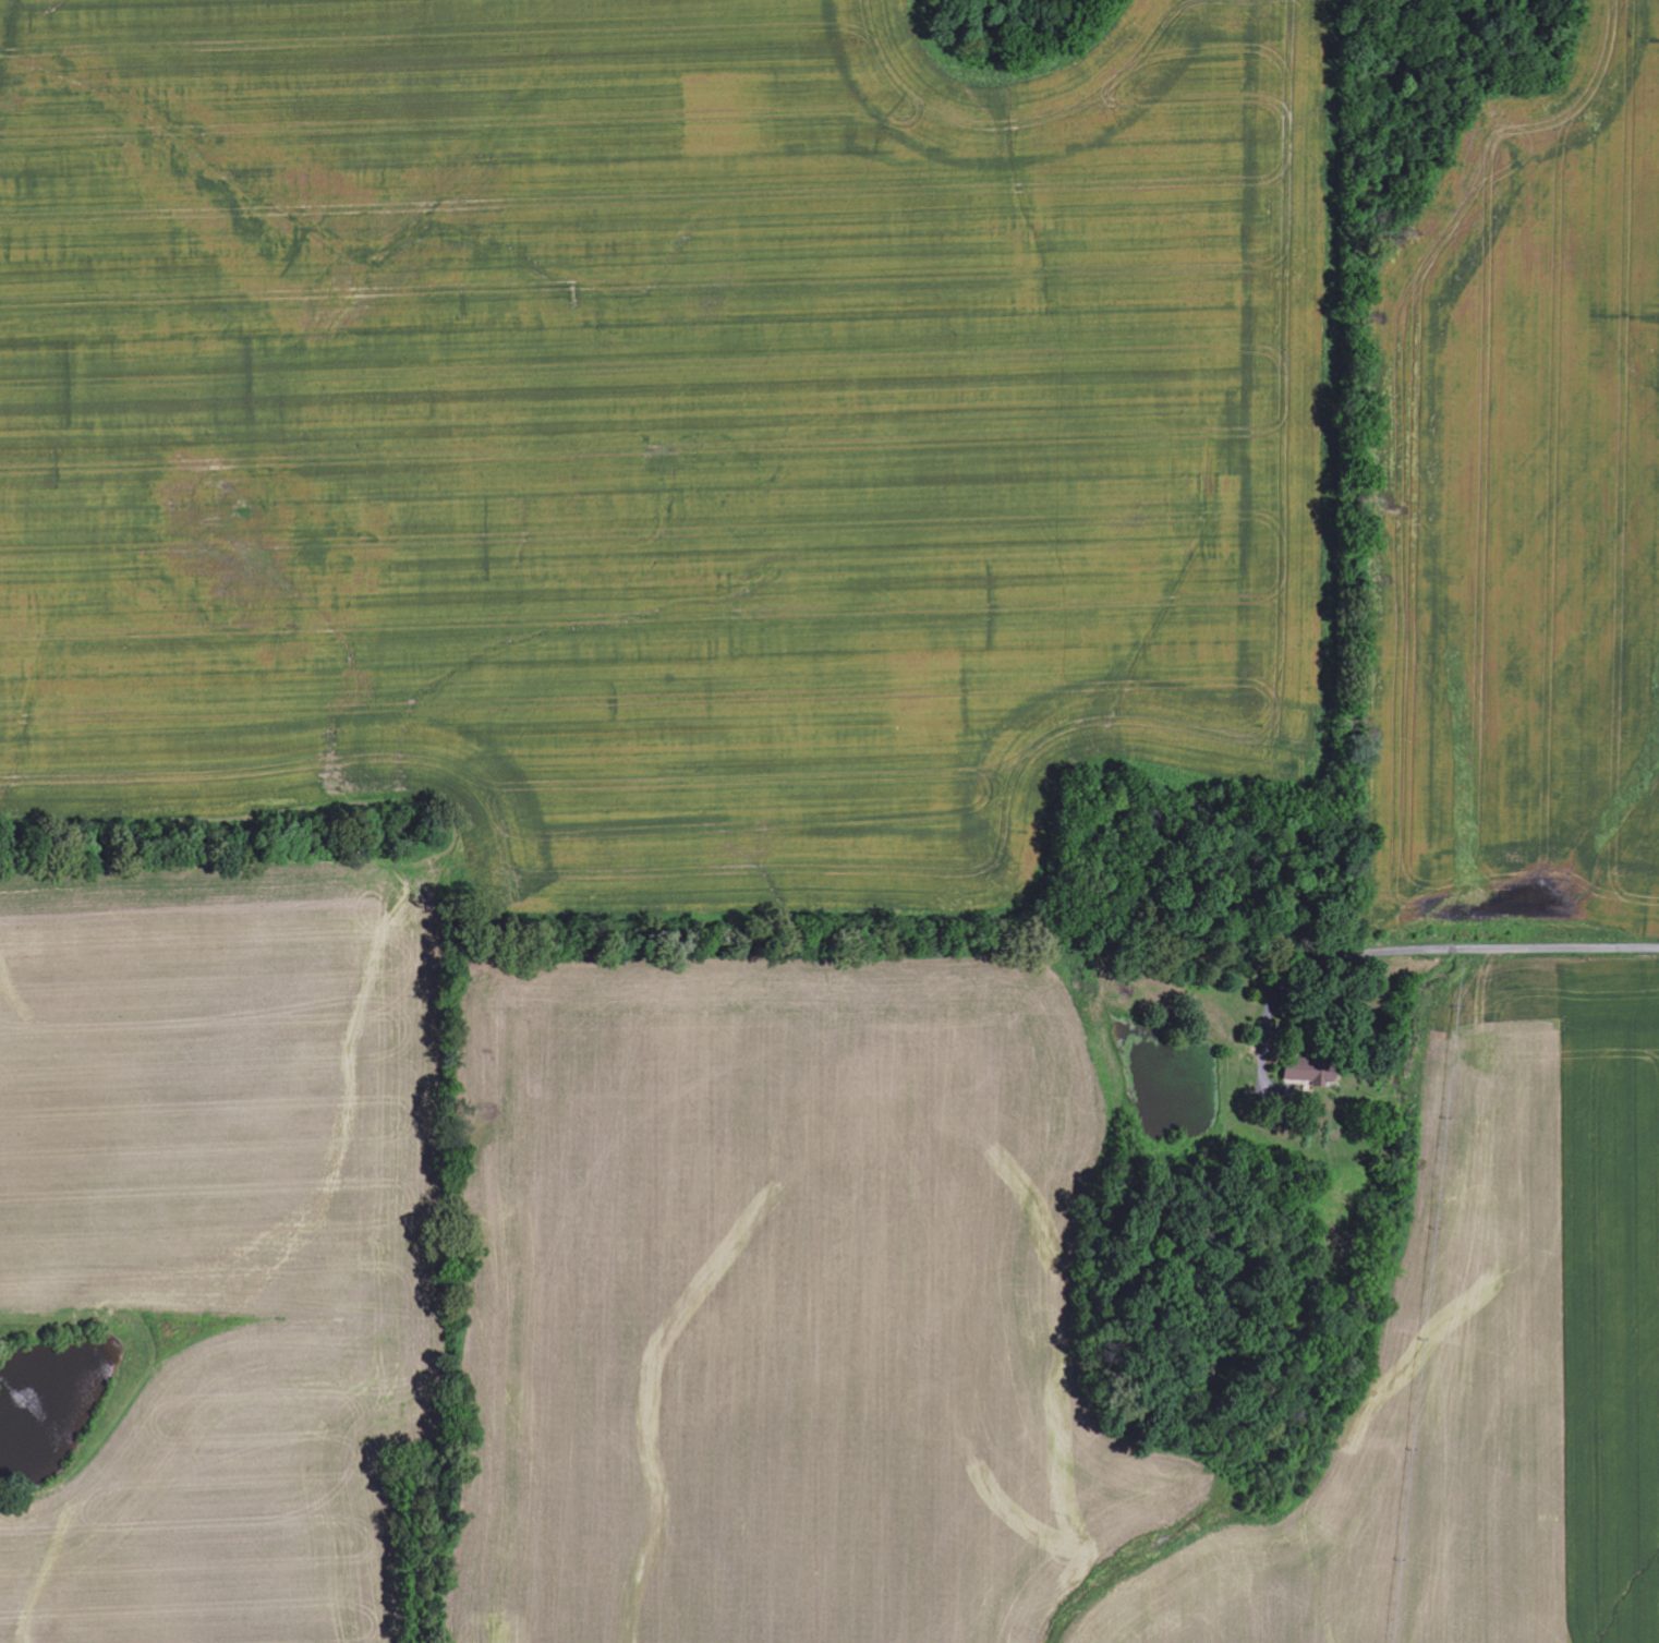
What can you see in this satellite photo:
road: (1490, 947)
building: (1311, 1073)

